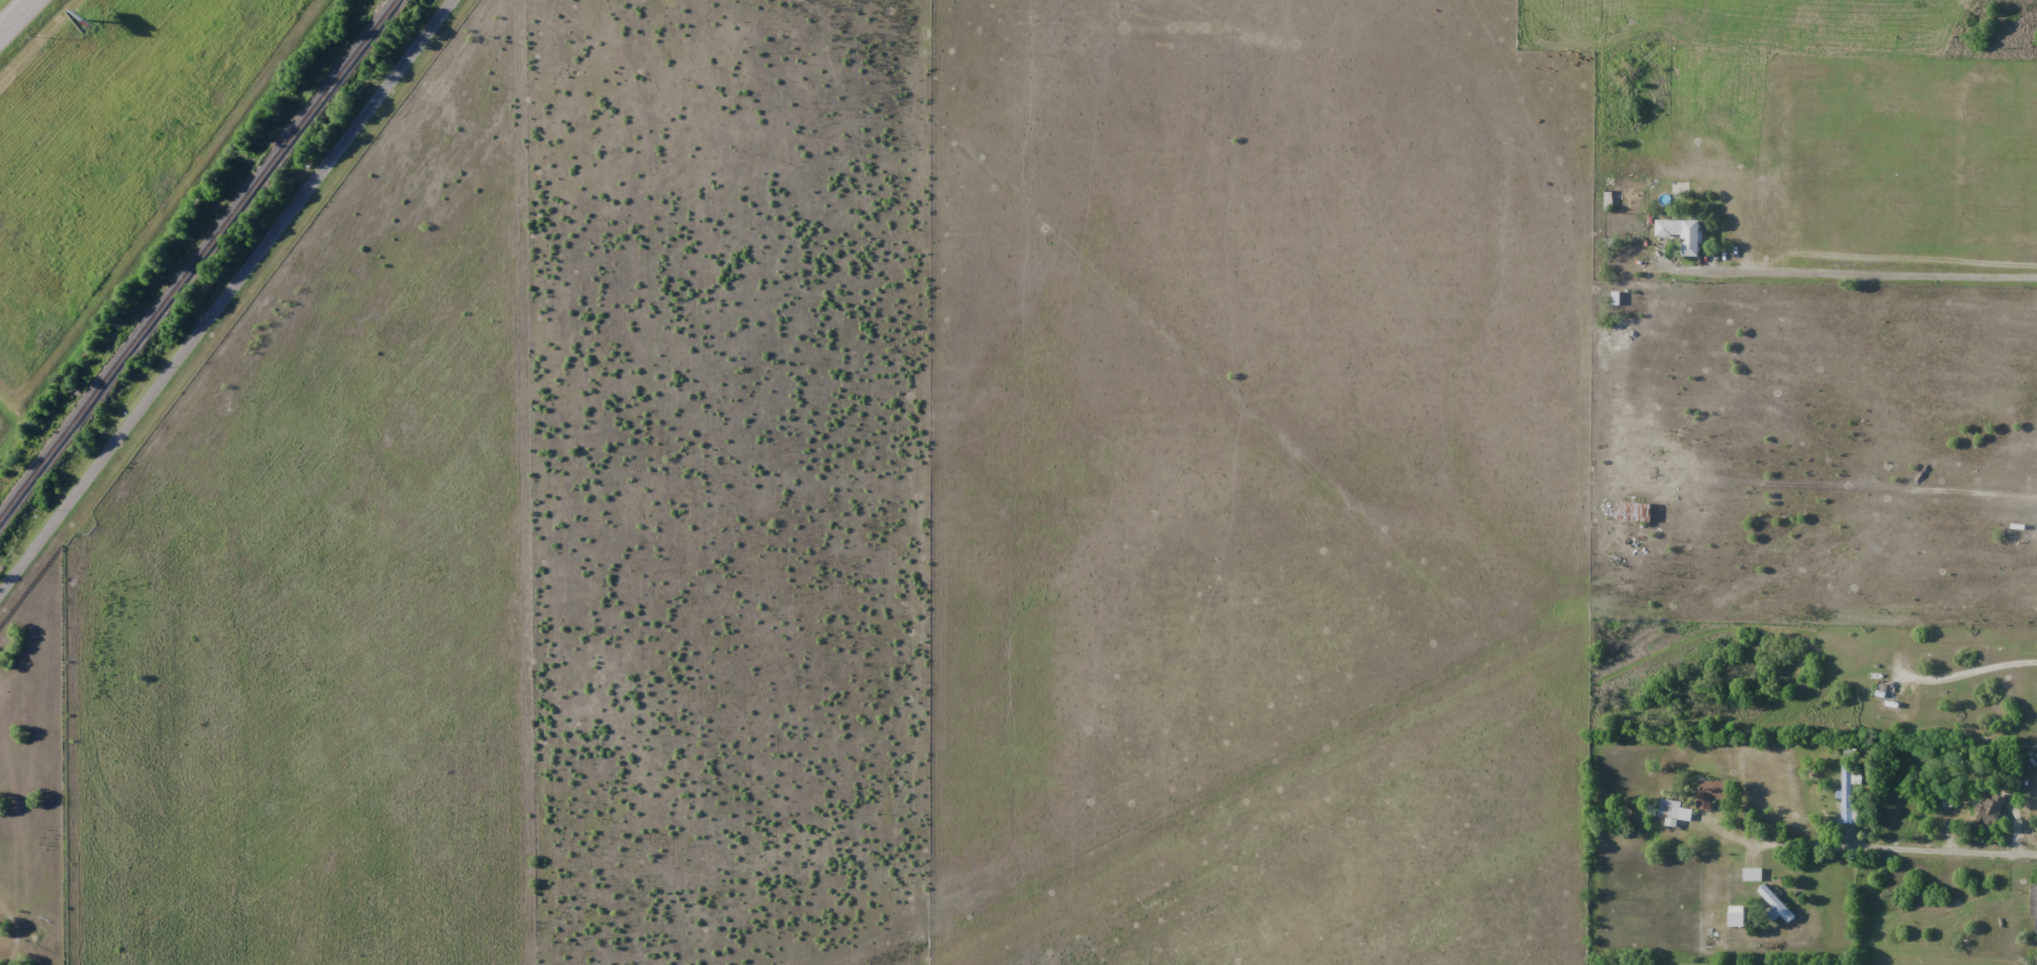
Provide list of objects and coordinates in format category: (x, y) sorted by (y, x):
road: (16, 16)
building: (1682, 234)
railway: (197, 259)
road: (1872, 272)
road: (225, 295)
road: (1975, 669)
building: (1889, 699)
building: (1846, 793)
building: (1711, 794)
building: (1664, 810)
building: (1988, 813)
road: (1875, 847)
building: (1751, 874)
building: (2033, 903)

